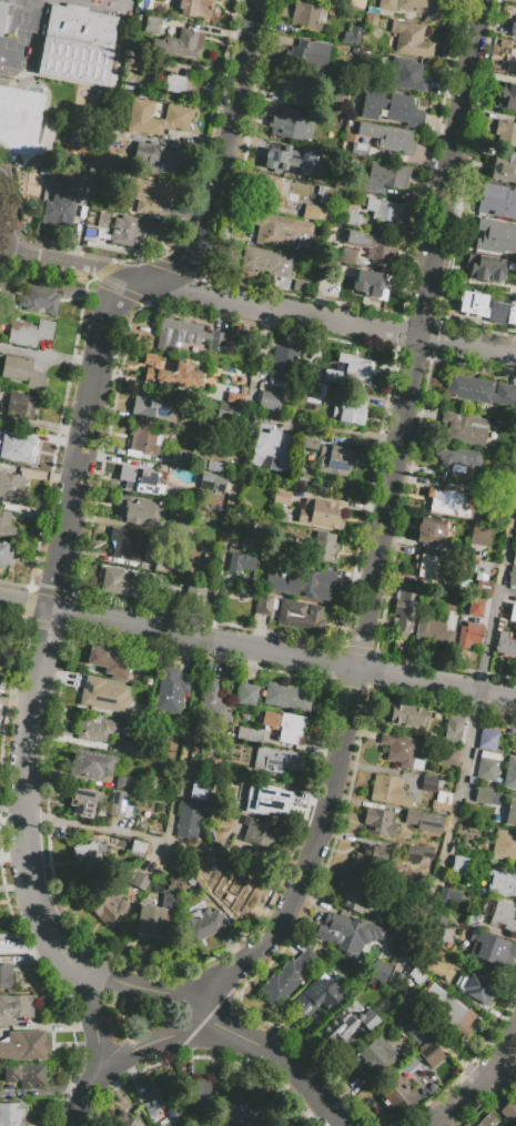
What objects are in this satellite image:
building: (387, 6)
building: (160, 8)
building: (195, 8)
building: (421, 8)
building: (1, 13)
building: (305, 16)
building: (80, 24)
building: (152, 24)
building: (515, 33)
building: (353, 38)
building: (411, 39)
building: (178, 44)
building: (307, 54)
building: (73, 60)
building: (510, 62)
building: (135, 63)
building: (408, 74)
building: (130, 81)
building: (182, 84)
building: (292, 84)
building: (341, 93)
building: (507, 98)
building: (392, 108)
building: (178, 115)
building: (19, 120)
building: (291, 124)
building: (505, 132)
building: (387, 136)
building: (289, 158)
building: (160, 159)
building: (504, 166)
building: (384, 177)
building: (272, 193)
building: (323, 193)
building: (151, 196)
building: (65, 199)
building: (497, 201)
road: (13, 209)
building: (383, 209)
road: (7, 213)
building: (315, 213)
building: (354, 220)
parking lot: (0, 227)
building: (98, 227)
building: (133, 231)
building: (279, 231)
building: (495, 235)
building: (374, 245)
road: (7, 250)
building: (348, 257)
building: (267, 265)
building: (486, 268)
building: (347, 275)
building: (367, 286)
building: (39, 300)
road: (263, 308)
building: (487, 310)
building: (29, 333)
building: (186, 337)
road: (48, 354)
building: (283, 366)
building: (350, 369)
building: (22, 372)
building: (172, 373)
building: (464, 388)
building: (315, 389)
building: (498, 394)
building: (236, 396)
building: (270, 400)
building: (152, 404)
building: (21, 406)
building: (229, 413)
building: (351, 414)
road: (40, 426)
building: (463, 427)
road: (341, 429)
road: (82, 430)
building: (310, 440)
building: (143, 442)
building: (272, 448)
building: (13, 449)
building: (456, 456)
building: (181, 459)
building: (336, 461)
building: (211, 466)
building: (141, 480)
building: (212, 484)
building: (11, 487)
building: (280, 497)
building: (447, 501)
building: (139, 511)
building: (321, 515)
road: (385, 524)
building: (6, 525)
building: (179, 530)
building: (429, 530)
building: (479, 536)
building: (154, 544)
building: (252, 544)
building: (128, 545)
building: (324, 548)
building: (4, 552)
building: (514, 558)
building: (170, 565)
building: (240, 567)
building: (435, 568)
building: (484, 574)
building: (513, 576)
road: (222, 577)
building: (274, 584)
building: (312, 584)
building: (123, 585)
building: (263, 605)
building: (475, 607)
building: (513, 612)
building: (404, 613)
building: (300, 616)
building: (436, 628)
building: (0, 631)
building: (469, 635)
building: (506, 645)
road: (257, 649)
building: (121, 665)
building: (170, 690)
building: (247, 694)
building: (104, 696)
building: (289, 696)
building: (214, 706)
building: (407, 718)
building: (97, 729)
building: (291, 729)
building: (456, 732)
building: (250, 734)
building: (487, 738)
building: (128, 748)
building: (401, 752)
building: (275, 759)
building: (451, 759)
building: (93, 764)
building: (487, 765)
building: (510, 773)
building: (127, 784)
building: (431, 784)
building: (389, 791)
building: (191, 795)
building: (265, 795)
building: (483, 795)
building: (441, 801)
building: (81, 802)
building: (118, 803)
building: (505, 814)
road: (458, 818)
building: (425, 820)
building: (188, 821)
building: (380, 823)
building: (260, 833)
road: (166, 843)
building: (505, 845)
building: (138, 850)
building: (416, 854)
building: (87, 856)
building: (368, 856)
building: (461, 864)
building: (223, 878)
building: (138, 880)
building: (502, 884)
building: (239, 893)
building: (356, 900)
building: (108, 909)
building: (504, 915)
building: (473, 919)
building: (149, 921)
building: (205, 927)
building: (437, 930)
building: (347, 935)
building: (492, 952)
building: (452, 965)
building: (287, 975)
building: (6, 976)
building: (429, 987)
building: (479, 988)
road: (139, 991)
road: (82, 992)
building: (317, 997)
building: (14, 1008)
building: (452, 1014)
park: (136, 1020)
building: (368, 1020)
building: (340, 1026)
road: (169, 1035)
building: (24, 1046)
road: (97, 1046)
building: (428, 1052)
building: (374, 1055)
road: (100, 1073)
building: (26, 1075)
road: (304, 1083)
road: (473, 1084)
road: (54, 1089)
building: (397, 1095)
building: (196, 1100)
building: (154, 1103)
building: (509, 1109)
building: (239, 1110)
building: (11, 1114)
building: (172, 1114)
road: (74, 1115)
building: (125, 1119)
building: (487, 1120)

